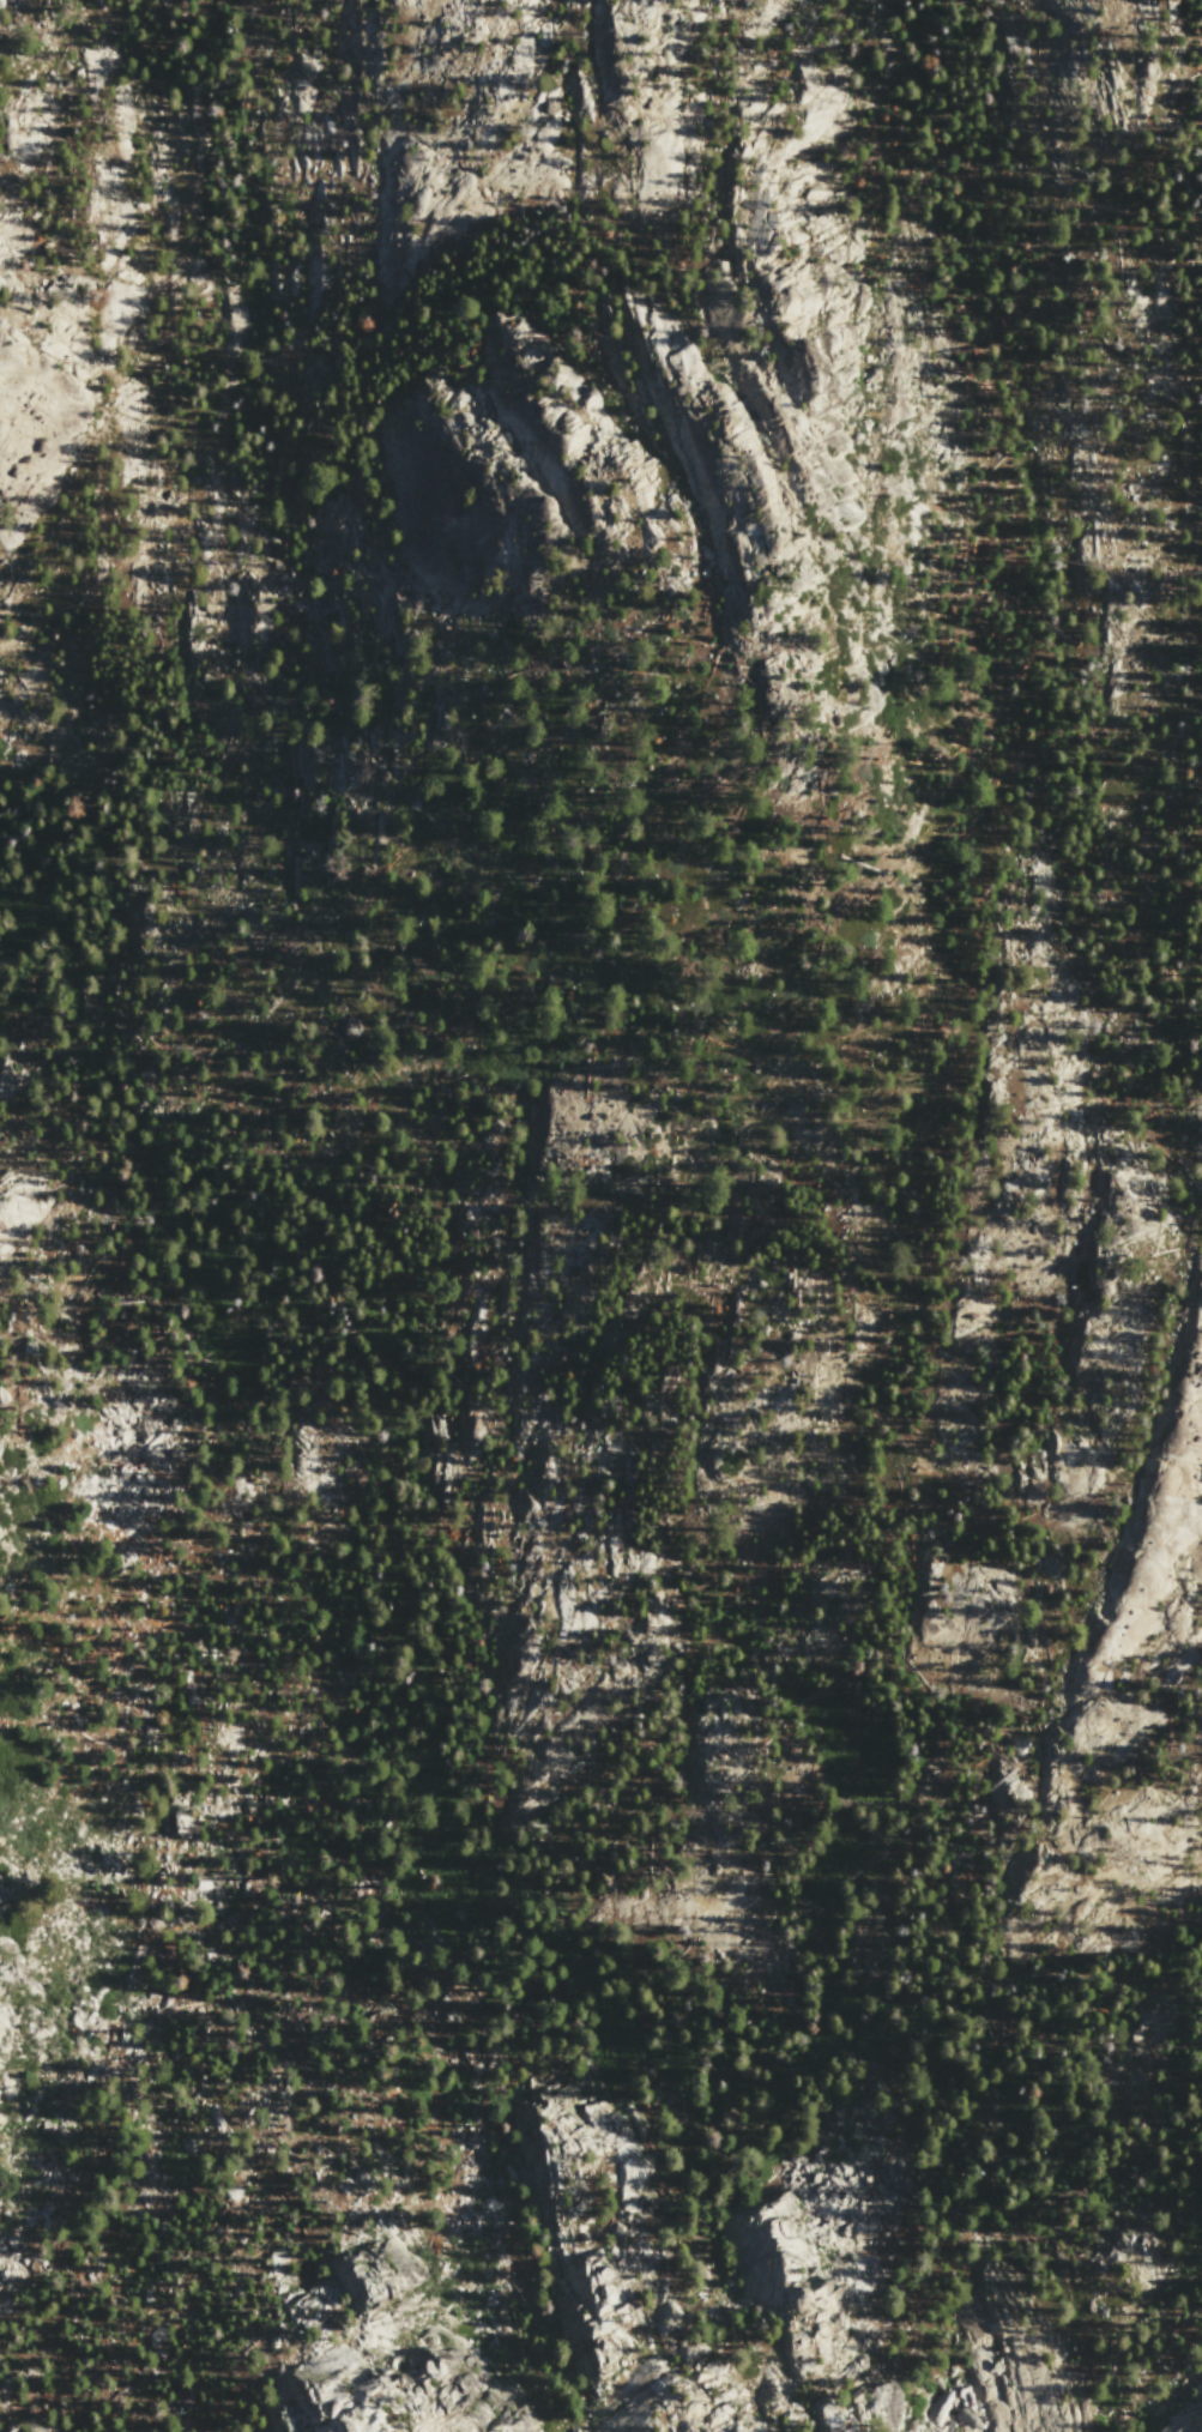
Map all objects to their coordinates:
road: (175, 382)
road: (31, 614)

